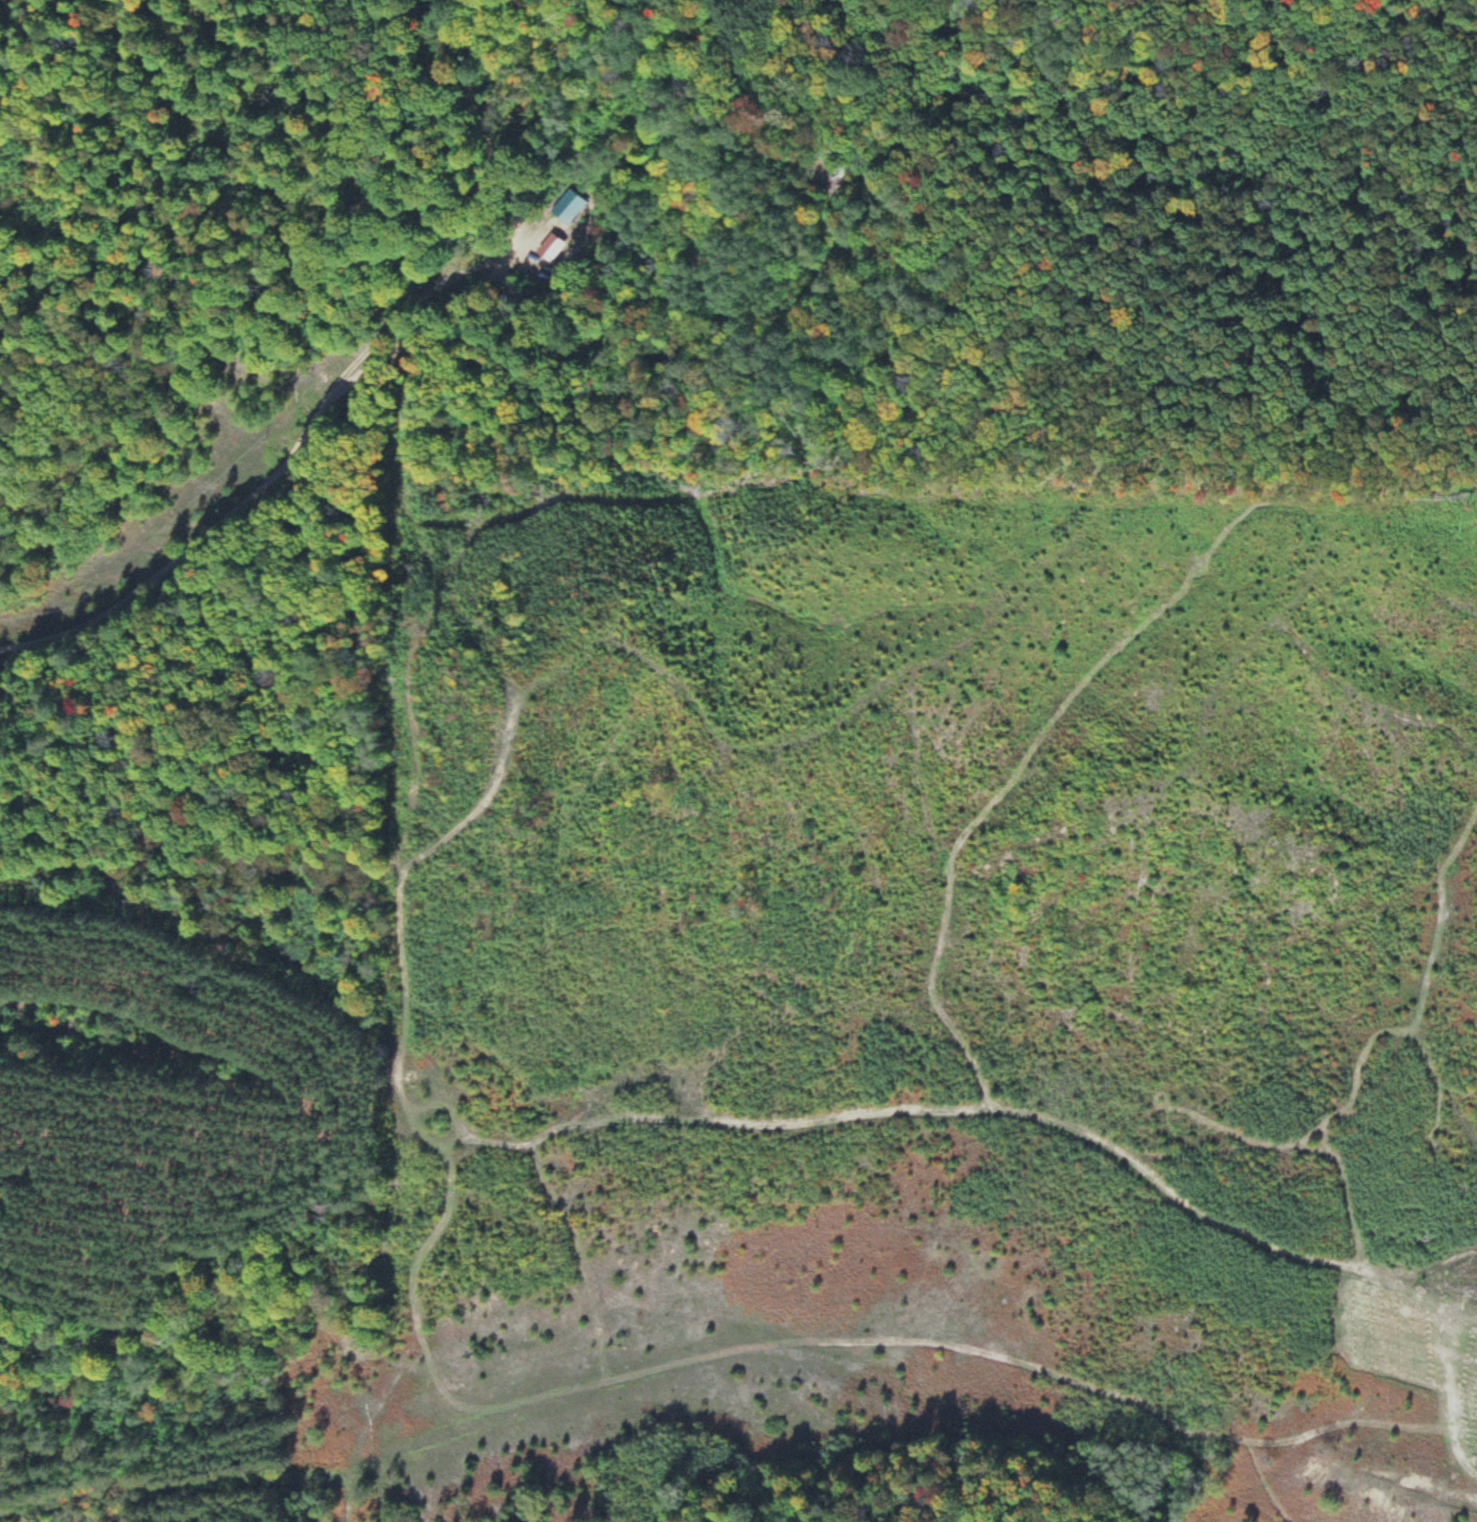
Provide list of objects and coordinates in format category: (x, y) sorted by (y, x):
building: (570, 203)
road: (327, 378)

